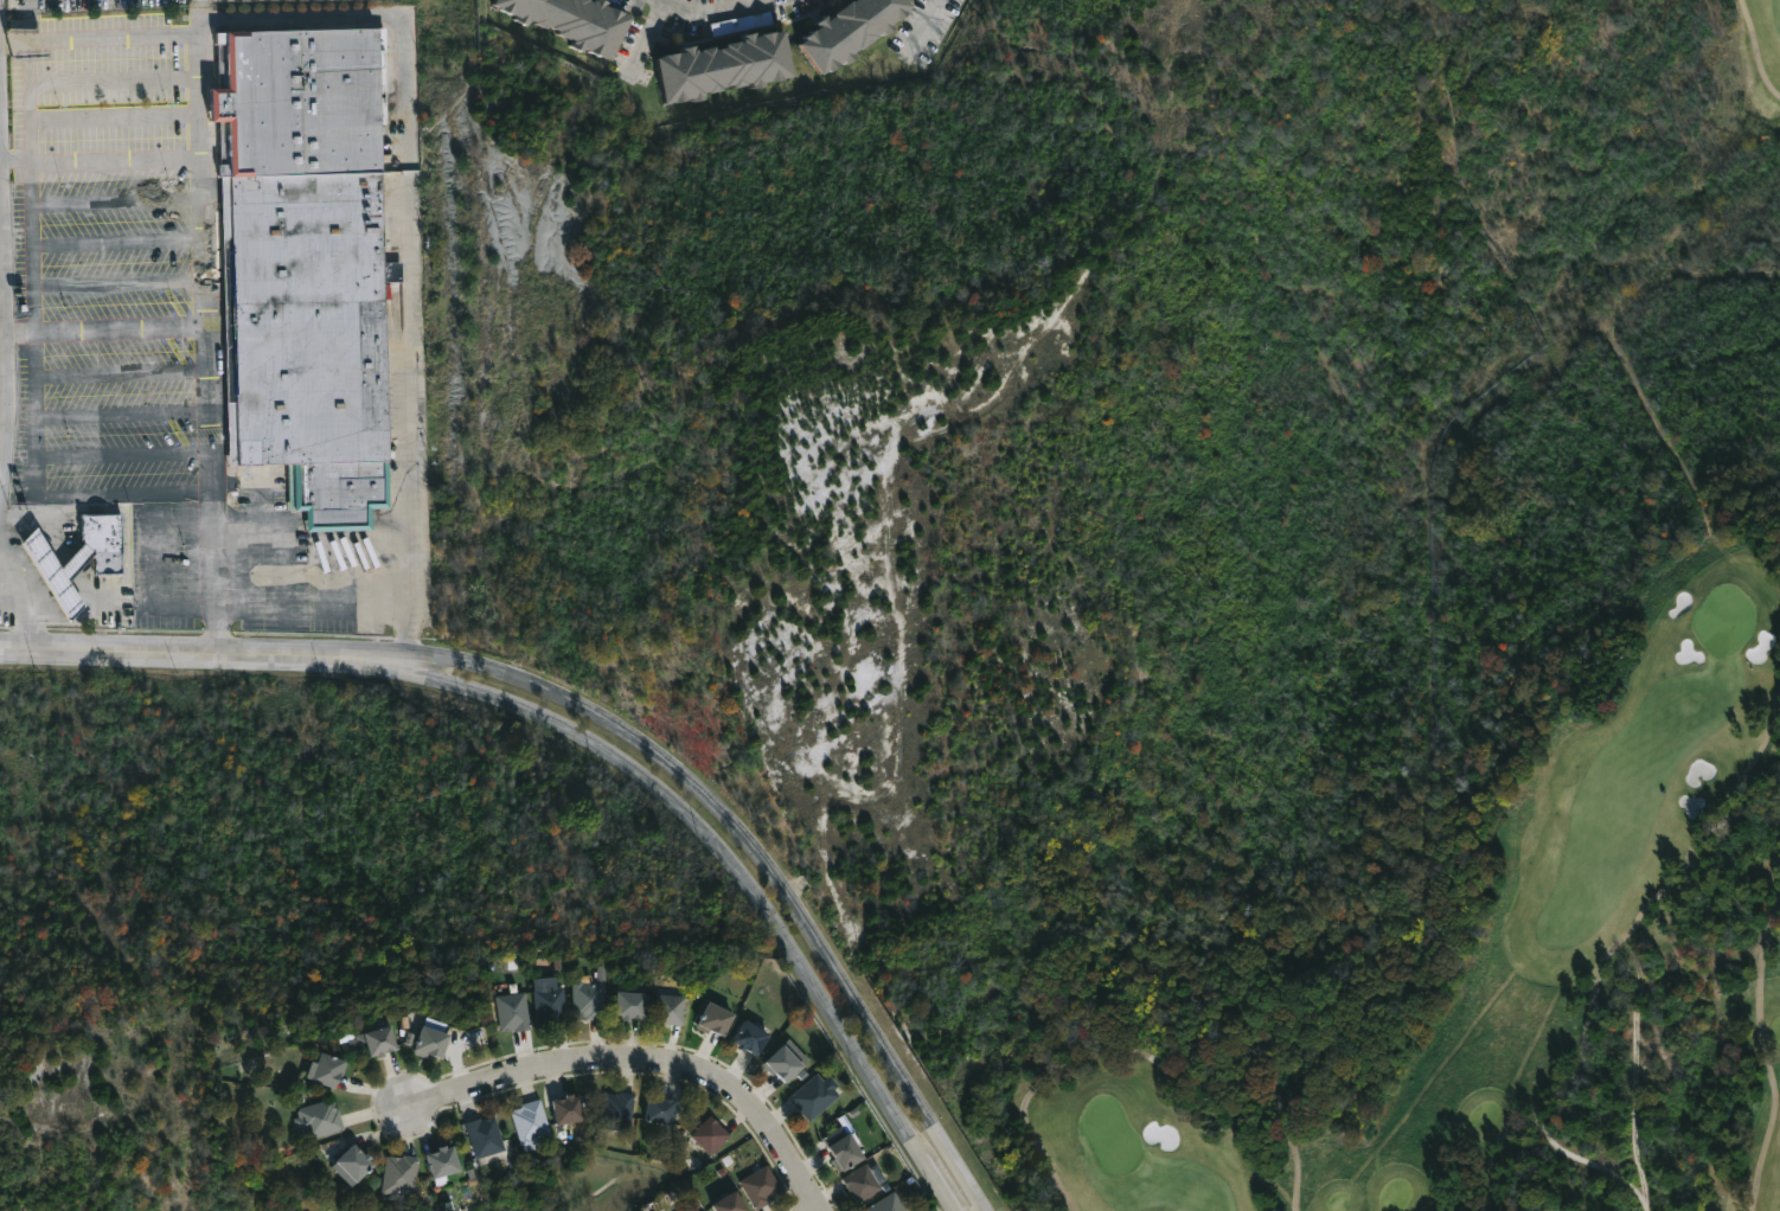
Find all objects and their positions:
road: (710, 2)
road: (254, 15)
building: (584, 21)
road: (927, 24)
building: (838, 30)
road: (1755, 50)
building: (713, 65)
road: (114, 158)
road: (32, 230)
building: (310, 264)
road: (4, 315)
road: (120, 328)
road: (2, 333)
road: (205, 341)
road: (33, 487)
road: (409, 504)
building: (110, 524)
building: (65, 555)
gas station: (65, 555)
building: (71, 556)
road: (20, 592)
park: (1723, 619)
road: (206, 651)
road: (771, 846)
park: (1515, 864)
road: (744, 870)
road: (1771, 876)
road: (1648, 908)
building: (591, 998)
building: (638, 1001)
building: (553, 1006)
building: (670, 1008)
building: (517, 1010)
building: (707, 1018)
building: (742, 1036)
building: (436, 1038)
building: (385, 1039)
road: (1129, 1050)
building: (782, 1061)
road: (1765, 1061)
road: (645, 1065)
building: (333, 1069)
building: (811, 1094)
building: (653, 1108)
building: (559, 1109)
building: (615, 1110)
building: (320, 1117)
building: (527, 1123)
park: (1108, 1133)
building: (707, 1134)
road: (1543, 1135)
building: (485, 1136)
building: (837, 1147)
building: (447, 1160)
building: (357, 1164)
building: (402, 1174)
building: (858, 1183)
building: (756, 1186)
building: (722, 1203)
building: (884, 1203)
building: (689, 1209)

